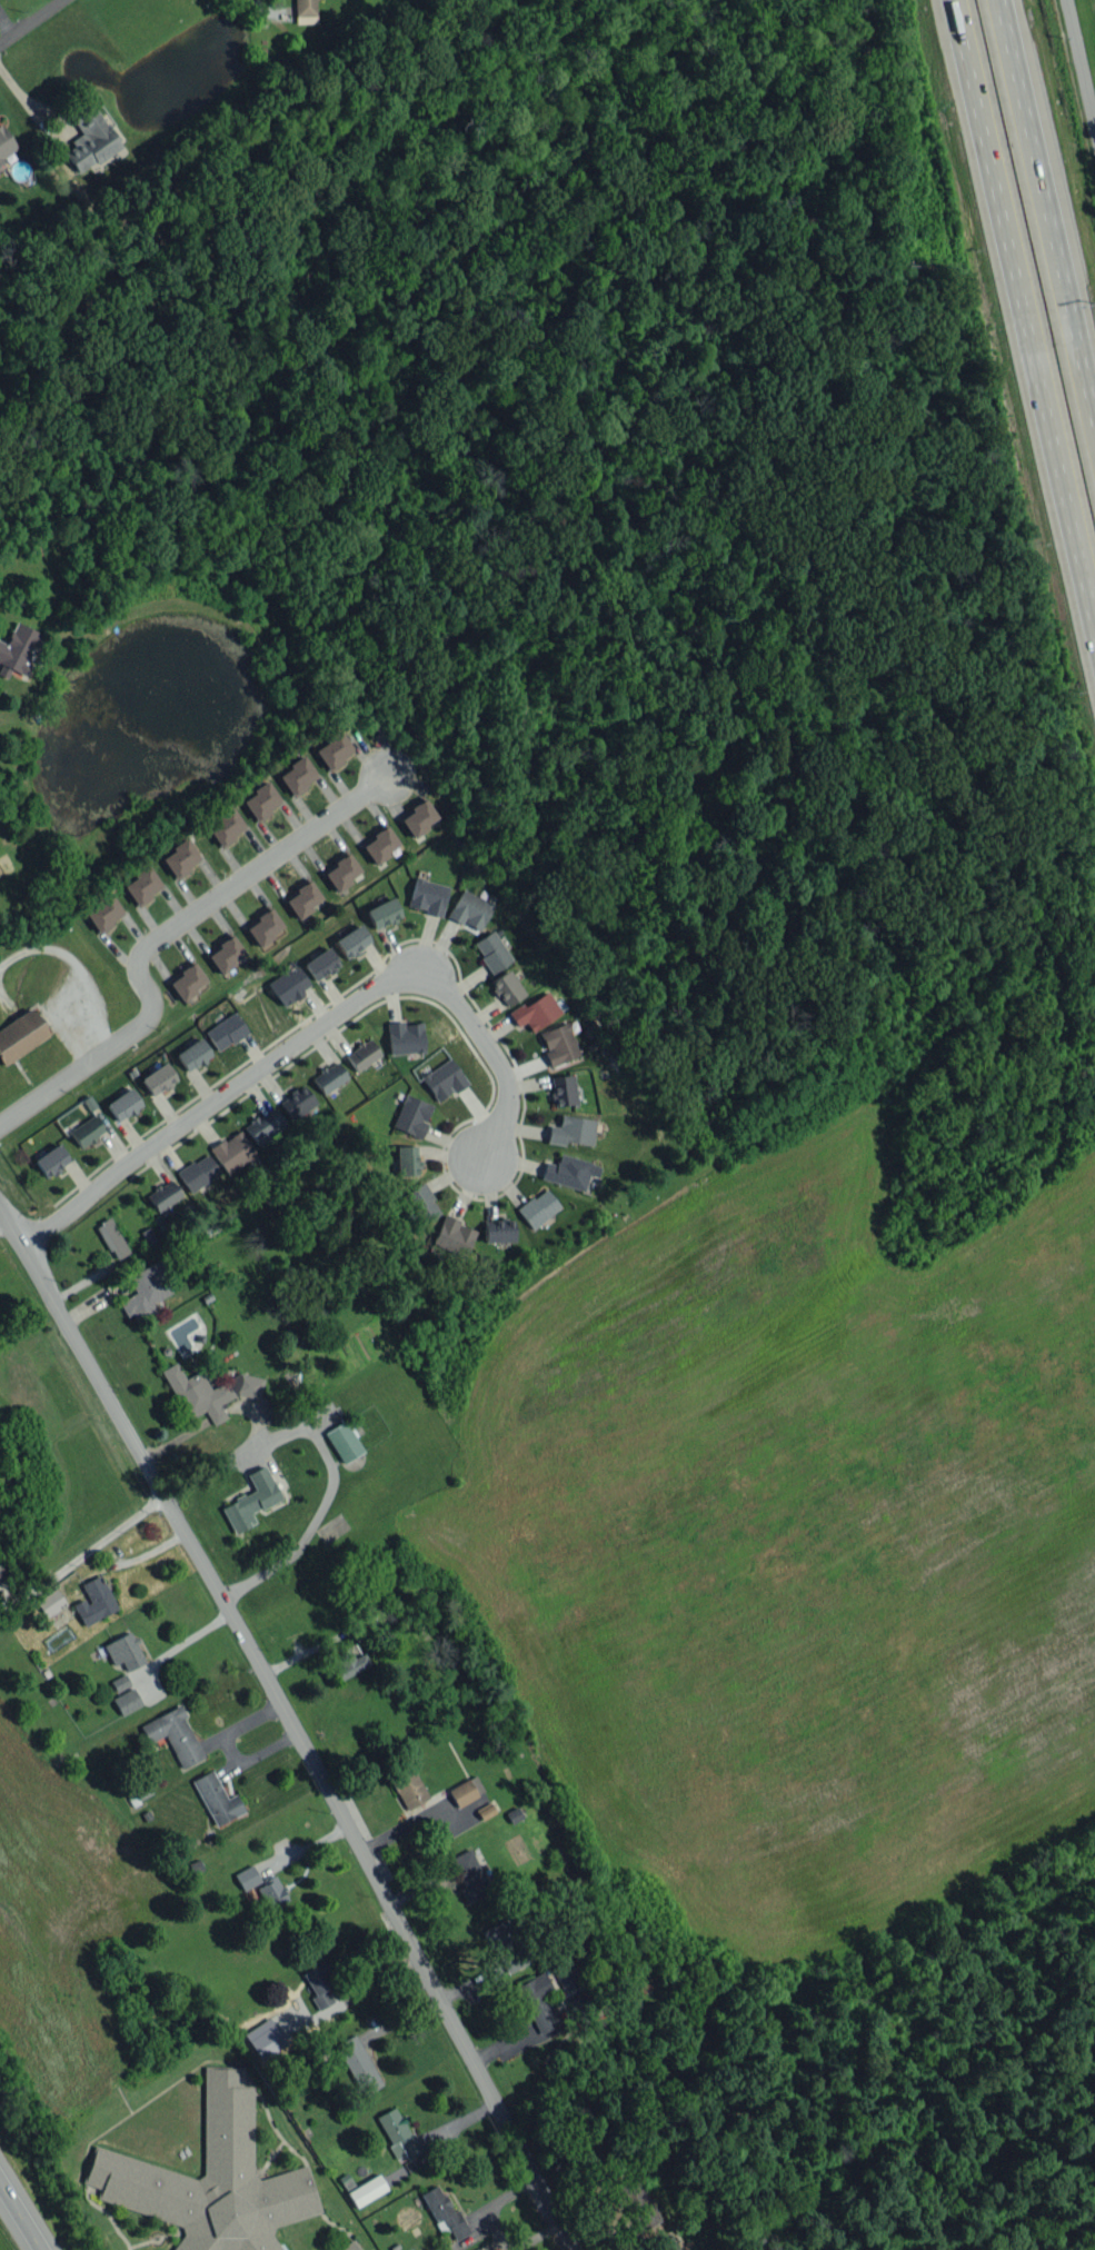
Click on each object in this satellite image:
road: (262, 7)
building: (305, 11)
road: (31, 23)
road: (1081, 62)
road: (28, 107)
building: (89, 138)
building: (6, 143)
road: (1052, 192)
road: (1018, 337)
building: (18, 649)
building: (332, 749)
building: (297, 776)
building: (261, 800)
building: (417, 816)
building: (225, 826)
building: (378, 843)
building: (180, 858)
building: (340, 869)
building: (141, 885)
building: (427, 896)
building: (301, 897)
building: (469, 909)
building: (102, 912)
building: (382, 913)
building: (262, 925)
road: (166, 932)
building: (351, 940)
building: (491, 950)
building: (225, 952)
building: (320, 963)
road: (74, 972)
building: (186, 979)
building: (289, 984)
building: (506, 987)
building: (535, 1010)
building: (225, 1031)
building: (20, 1035)
road: (305, 1035)
building: (405, 1037)
building: (558, 1044)
building: (192, 1054)
building: (362, 1054)
building: (329, 1076)
building: (158, 1078)
building: (444, 1079)
building: (561, 1089)
building: (297, 1102)
building: (123, 1103)
building: (411, 1116)
building: (263, 1125)
building: (86, 1131)
building: (571, 1131)
building: (232, 1151)
building: (51, 1159)
building: (407, 1159)
building: (569, 1171)
building: (197, 1172)
building: (163, 1195)
building: (421, 1203)
building: (537, 1207)
building: (498, 1231)
building: (454, 1236)
building: (111, 1238)
building: (145, 1291)
building: (246, 1384)
building: (197, 1393)
building: (342, 1441)
building: (250, 1500)
road: (163, 1503)
road: (308, 1527)
building: (94, 1601)
building: (50, 1602)
building: (125, 1651)
building: (348, 1662)
building: (119, 1681)
building: (127, 1701)
road: (292, 1725)
building: (173, 1734)
building: (408, 1789)
building: (465, 1790)
building: (138, 1792)
building: (217, 1799)
building: (469, 1875)
building: (247, 1876)
building: (271, 1893)
building: (507, 1944)
building: (567, 1975)
building: (319, 1984)
building: (537, 2002)
building: (578, 2004)
building: (263, 2038)
road: (536, 2038)
building: (358, 2063)
building: (397, 2133)
building: (210, 2179)
building: (366, 2190)
building: (636, 2203)
building: (444, 2212)
road: (20, 2214)
building: (666, 2244)
building: (350, 2246)

